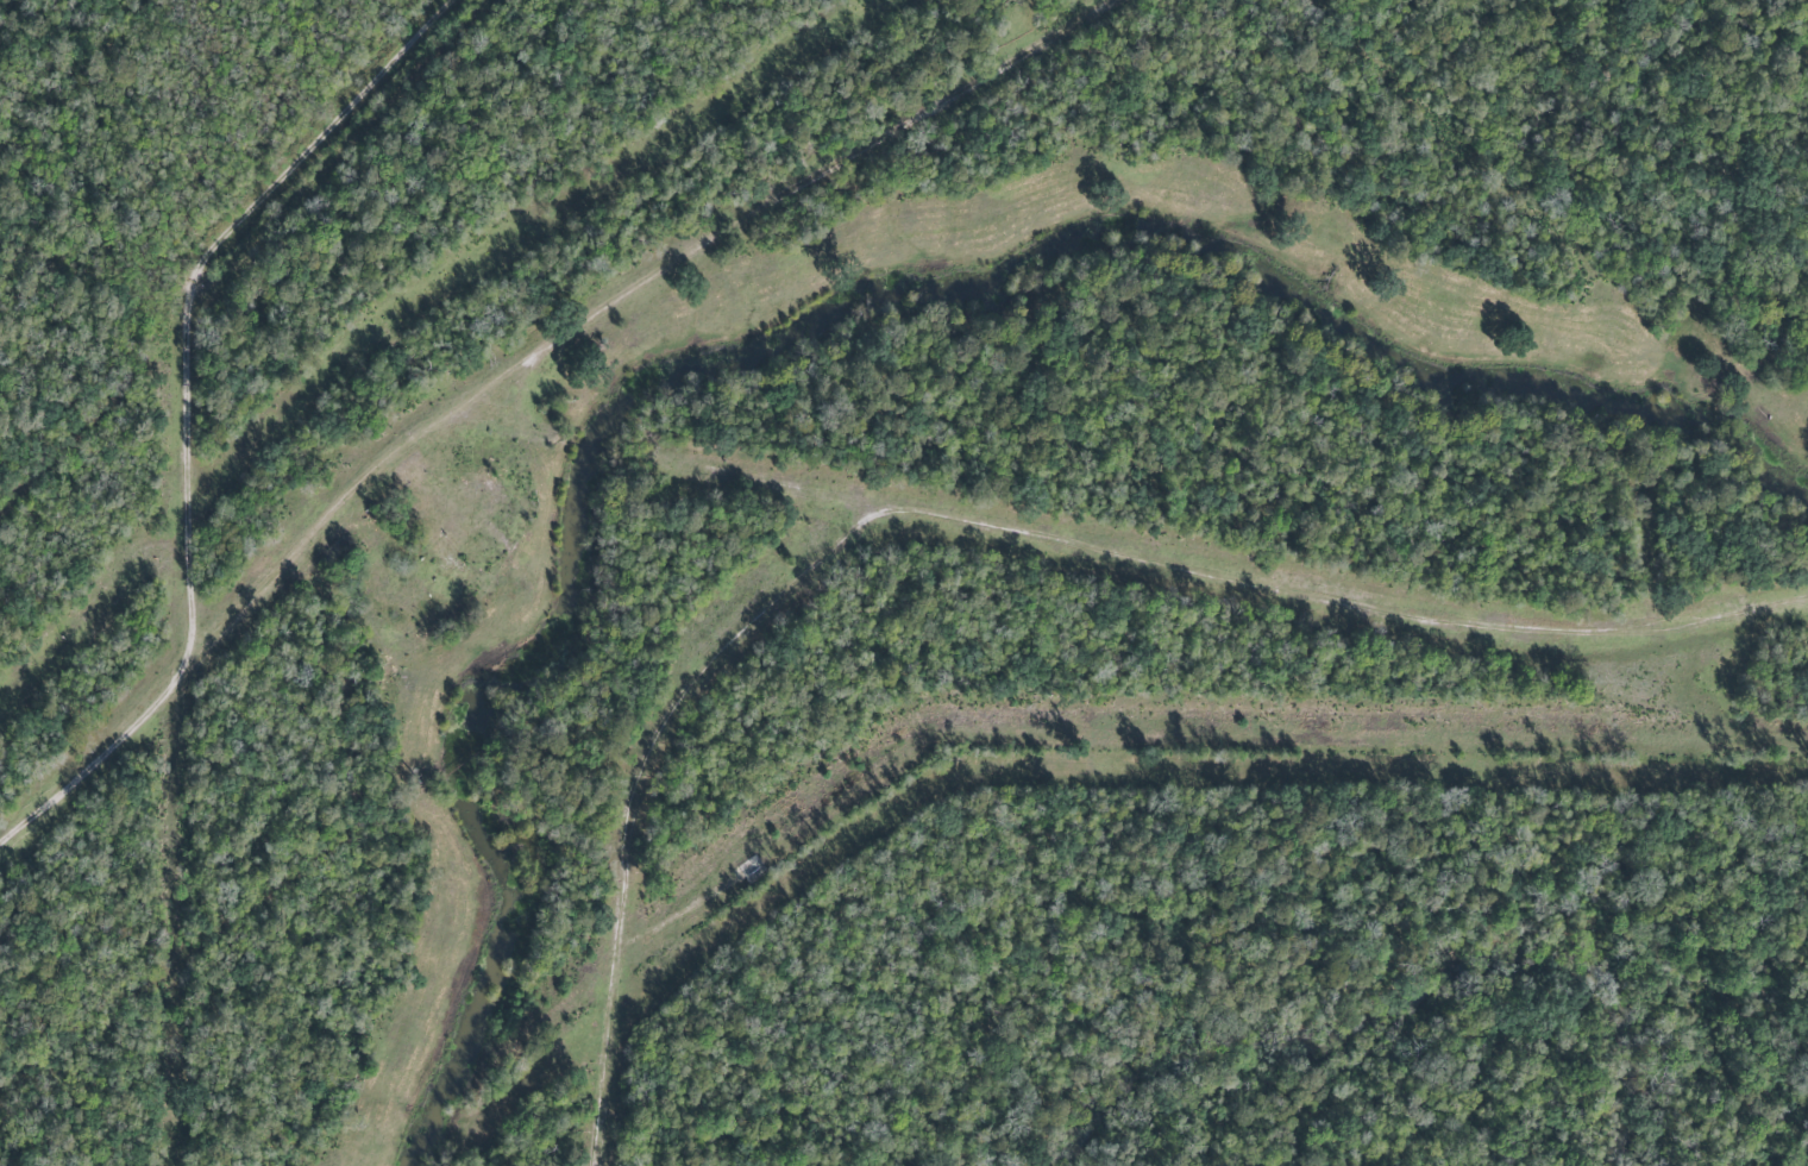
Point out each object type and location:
road: (795, 192)
river: (822, 318)
road: (197, 419)
road: (350, 501)
road: (974, 526)

